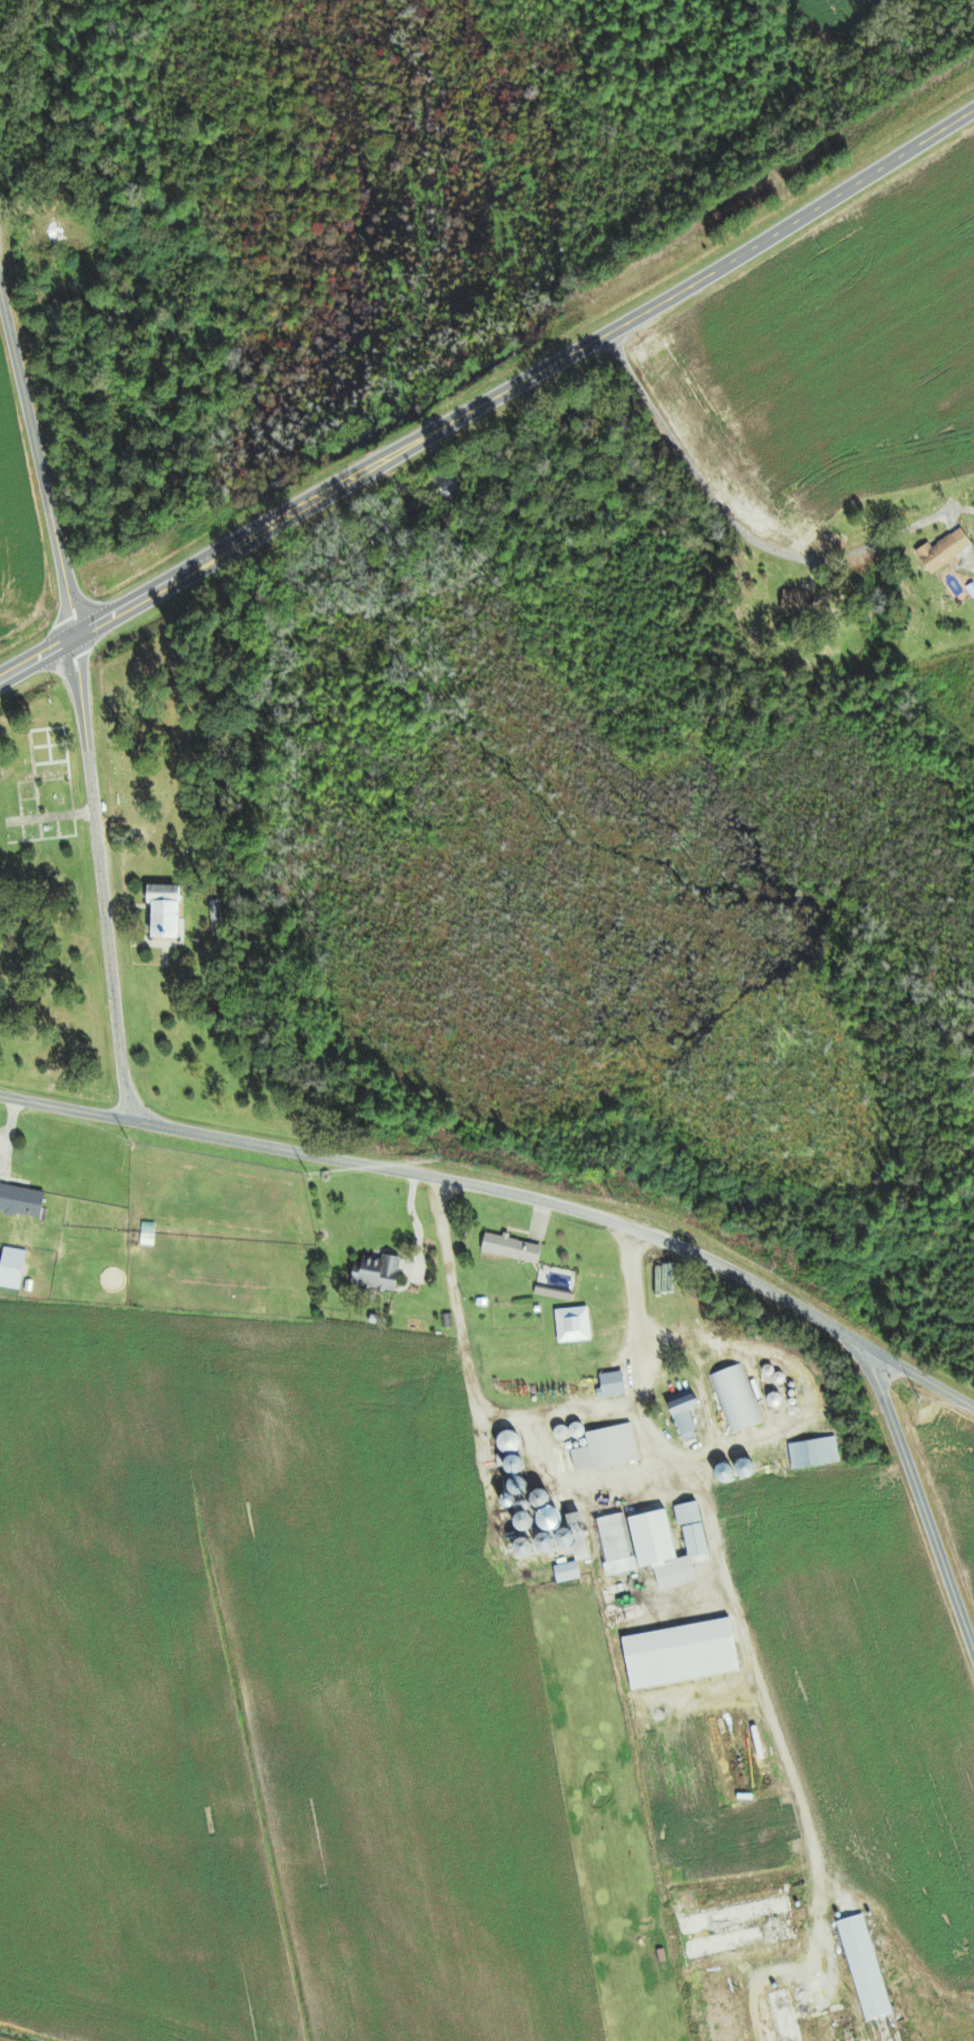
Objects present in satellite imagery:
road: (710, 271)
road: (38, 465)
road: (254, 528)
road: (739, 530)
building: (946, 551)
building: (798, 602)
road: (35, 654)
road: (99, 877)
building: (166, 912)
building: (218, 927)
road: (507, 1193)
building: (22, 1202)
building: (513, 1249)
building: (12, 1269)
building: (380, 1275)
building: (574, 1326)
building: (614, 1386)
building: (736, 1400)
building: (776, 1401)
building: (687, 1416)
building: (578, 1433)
building: (614, 1448)
building: (815, 1455)
building: (543, 1500)
road: (919, 1501)
building: (528, 1523)
building: (697, 1542)
building: (677, 1545)
building: (616, 1546)
building: (568, 1573)
building: (748, 1739)
building: (740, 1927)
building: (865, 1967)
building: (724, 2012)
building: (785, 2015)
building: (846, 2031)

